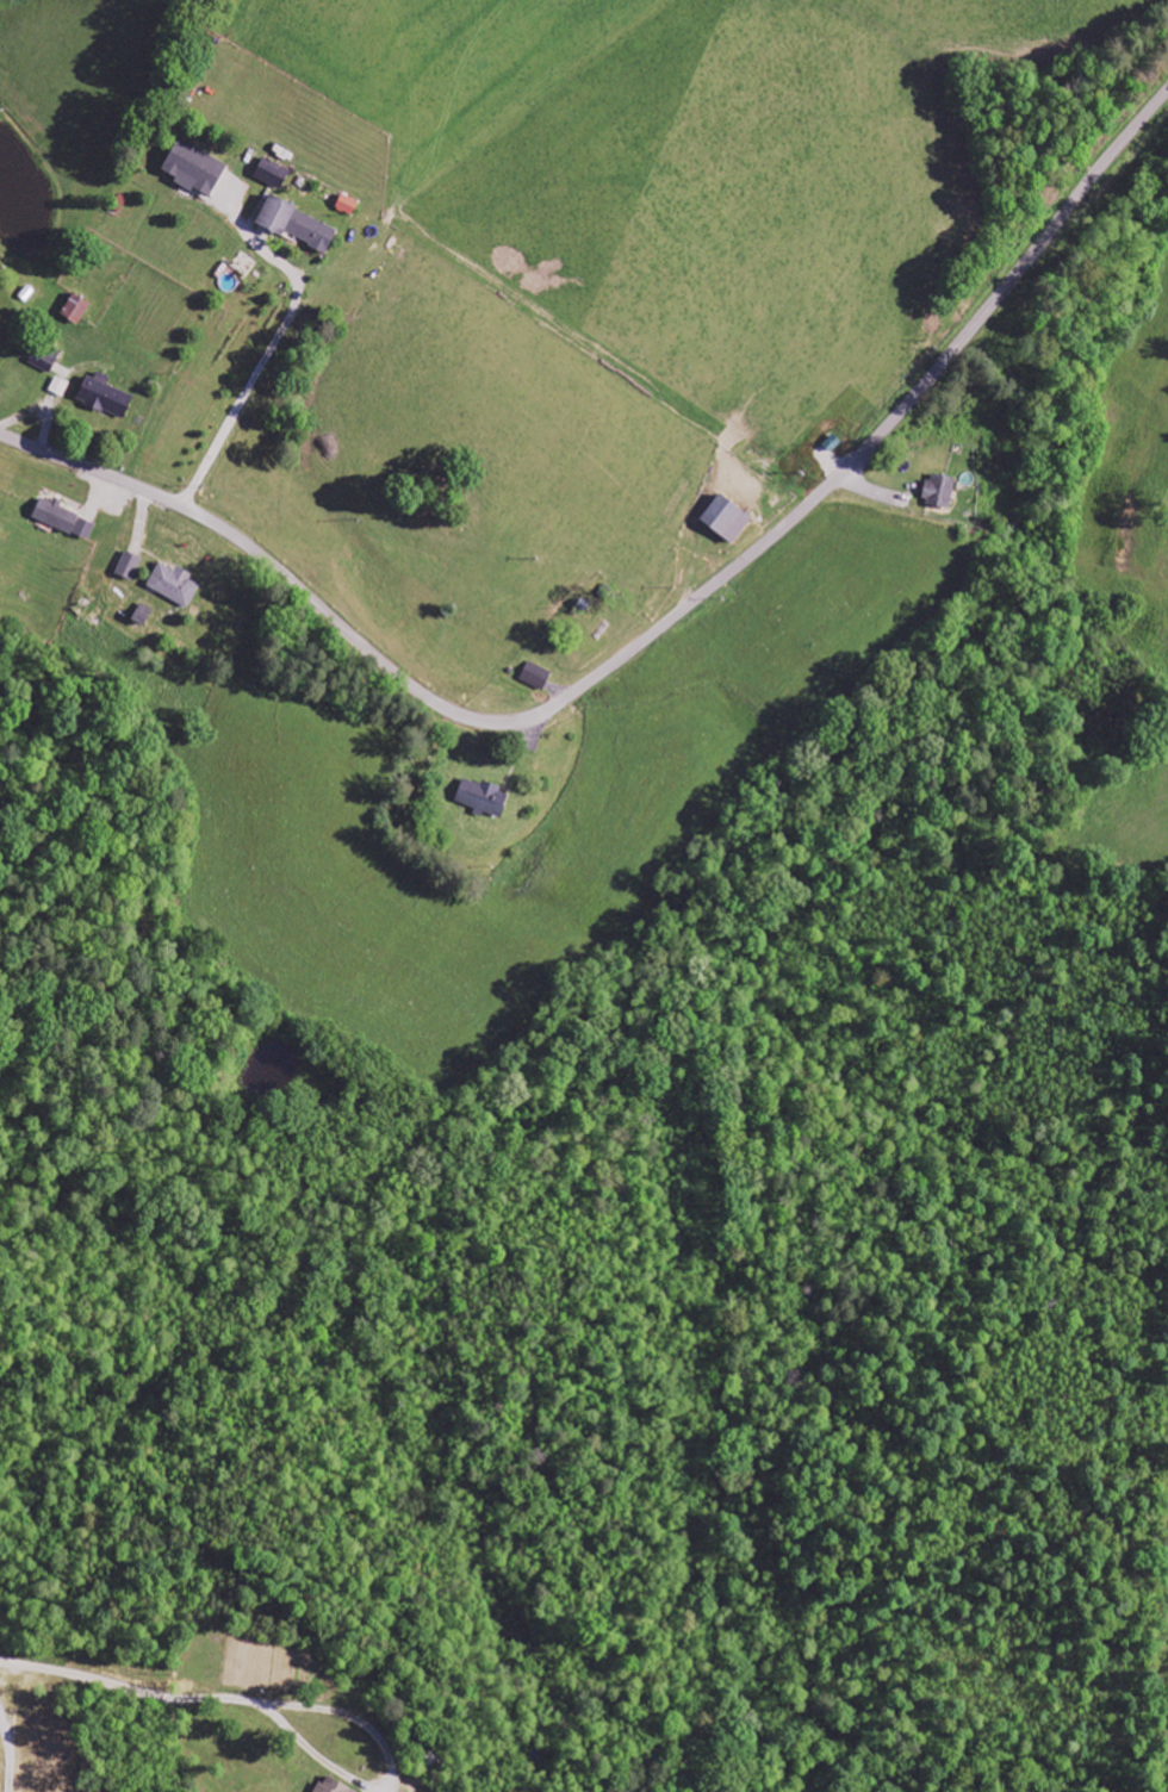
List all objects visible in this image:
building: (195, 168)
building: (272, 174)
building: (347, 205)
building: (298, 224)
building: (76, 307)
road: (273, 343)
building: (44, 359)
building: (60, 386)
building: (105, 396)
building: (940, 491)
building: (64, 518)
building: (727, 518)
building: (129, 566)
building: (174, 584)
building: (88, 610)
building: (143, 614)
road: (648, 636)
building: (536, 676)
building: (483, 797)
road: (129, 1687)
road: (387, 1773)
building: (333, 1786)

